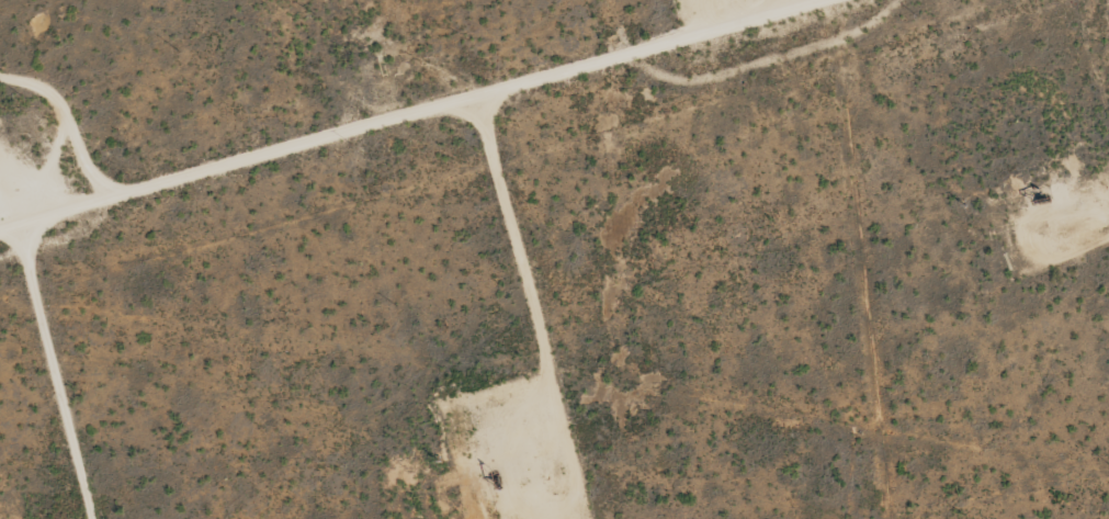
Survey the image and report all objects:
road: (411, 110)

